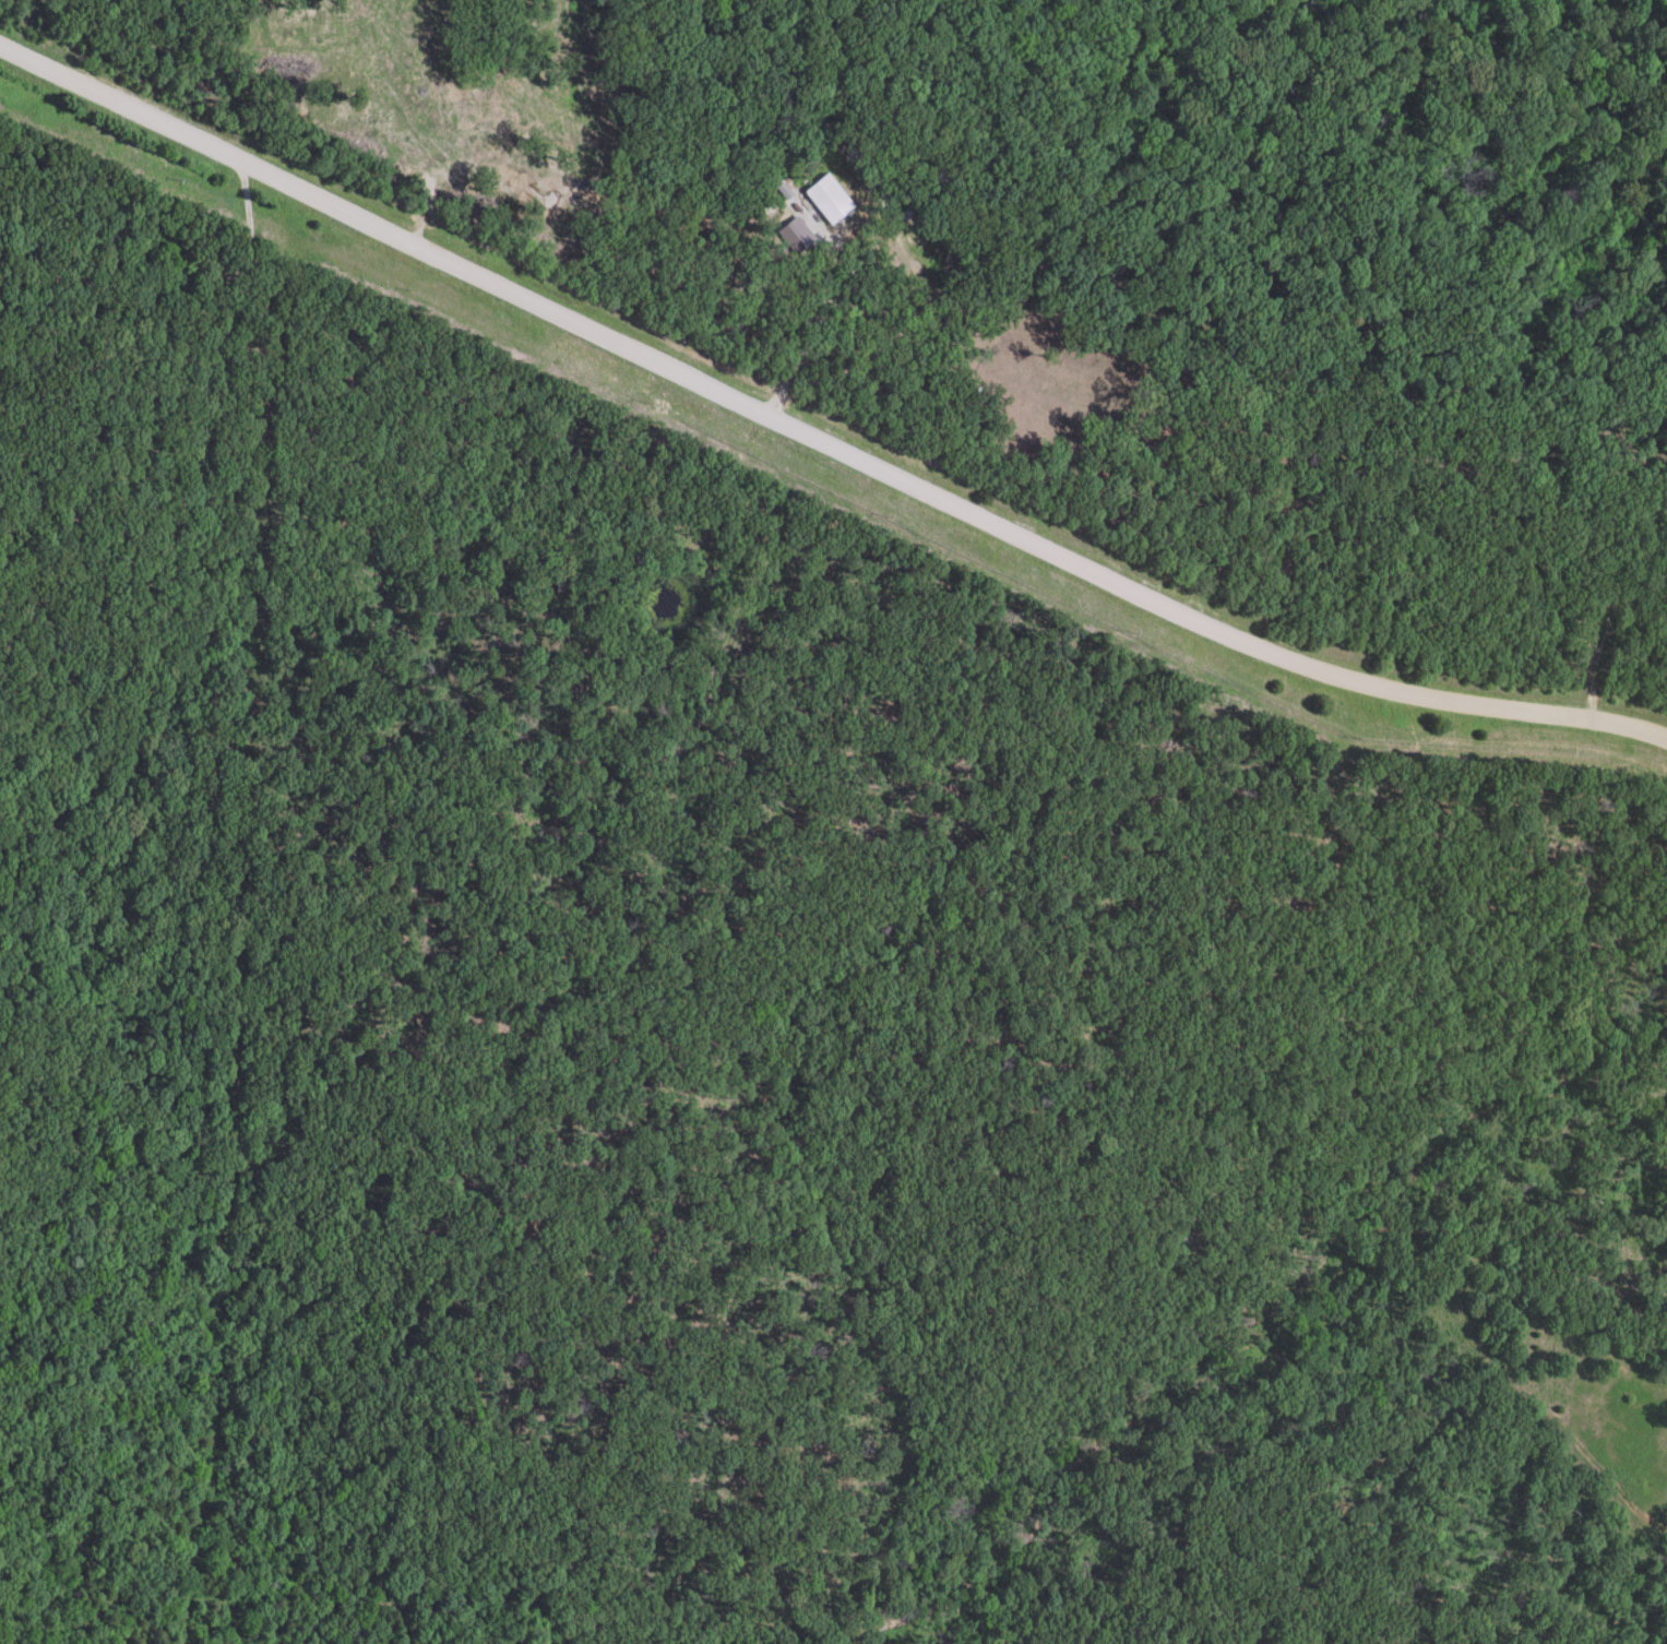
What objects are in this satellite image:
road: (817, 440)

